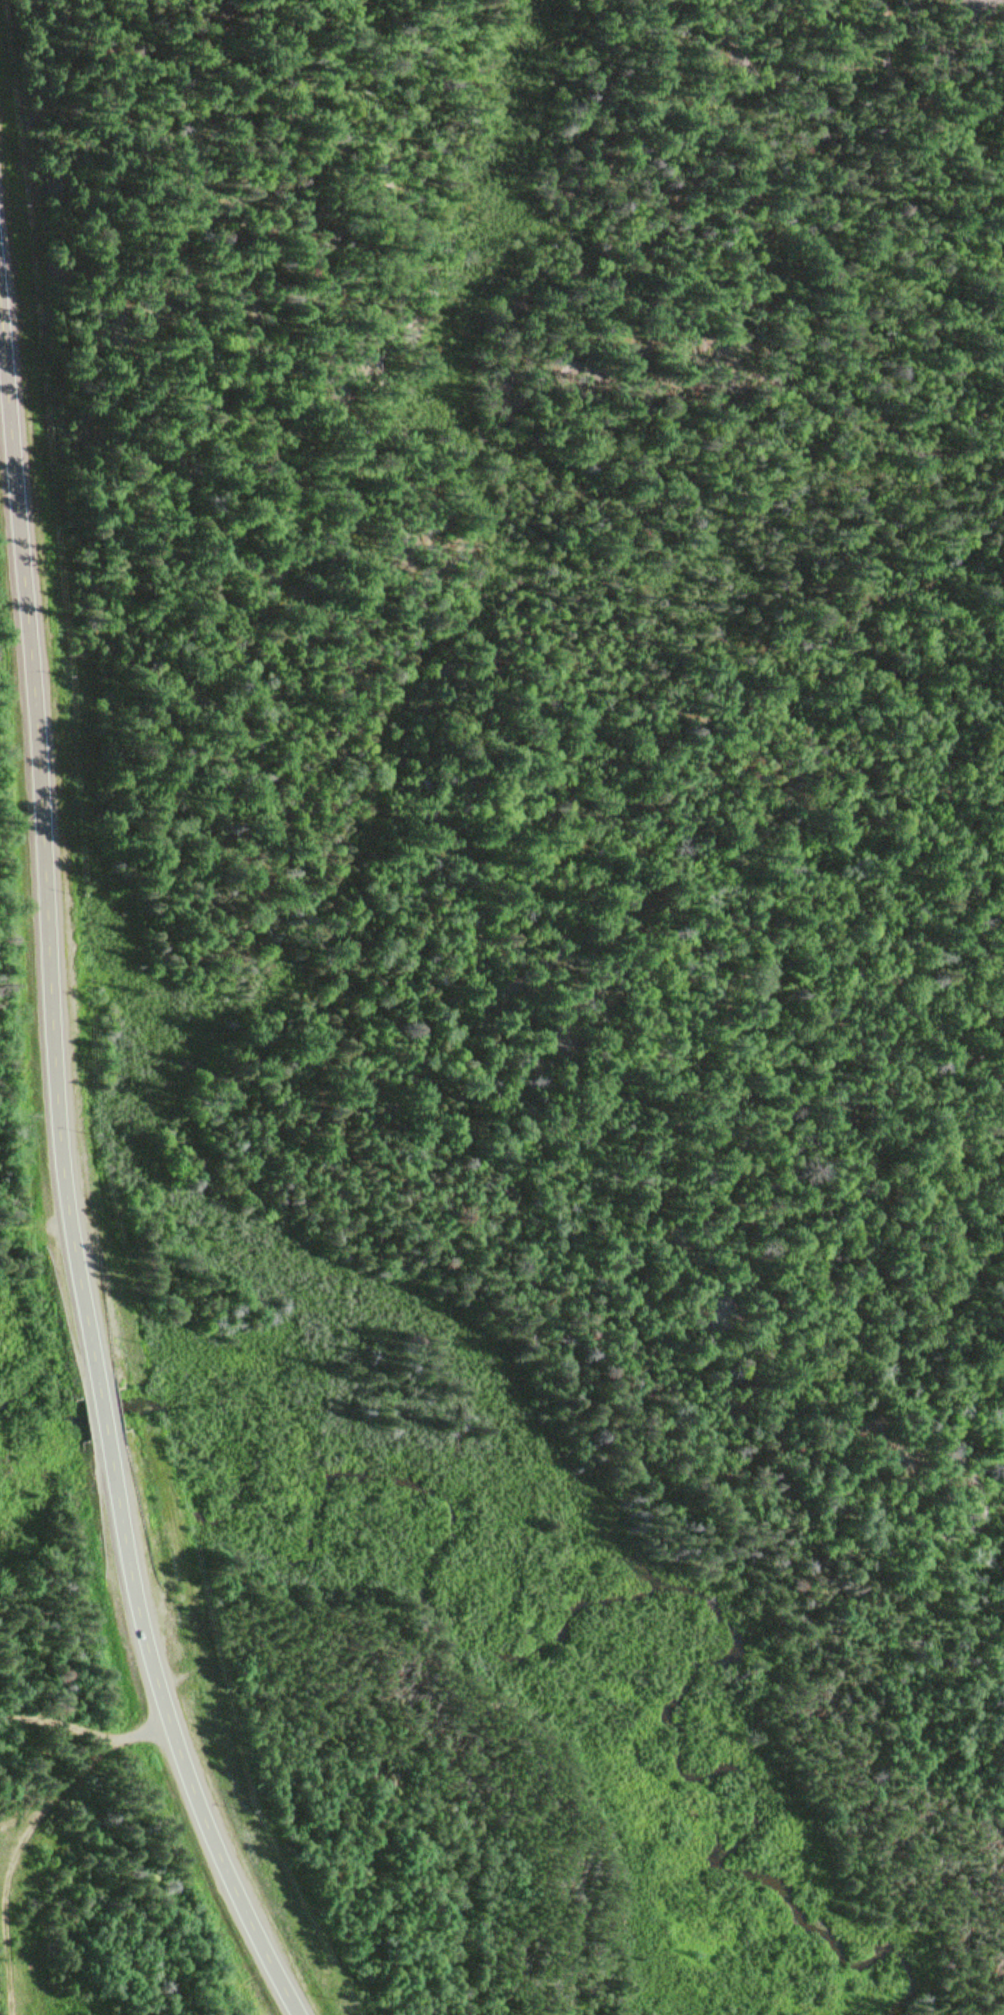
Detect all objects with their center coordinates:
road: (63, 1153)
road: (90, 1725)
road: (5, 1944)

